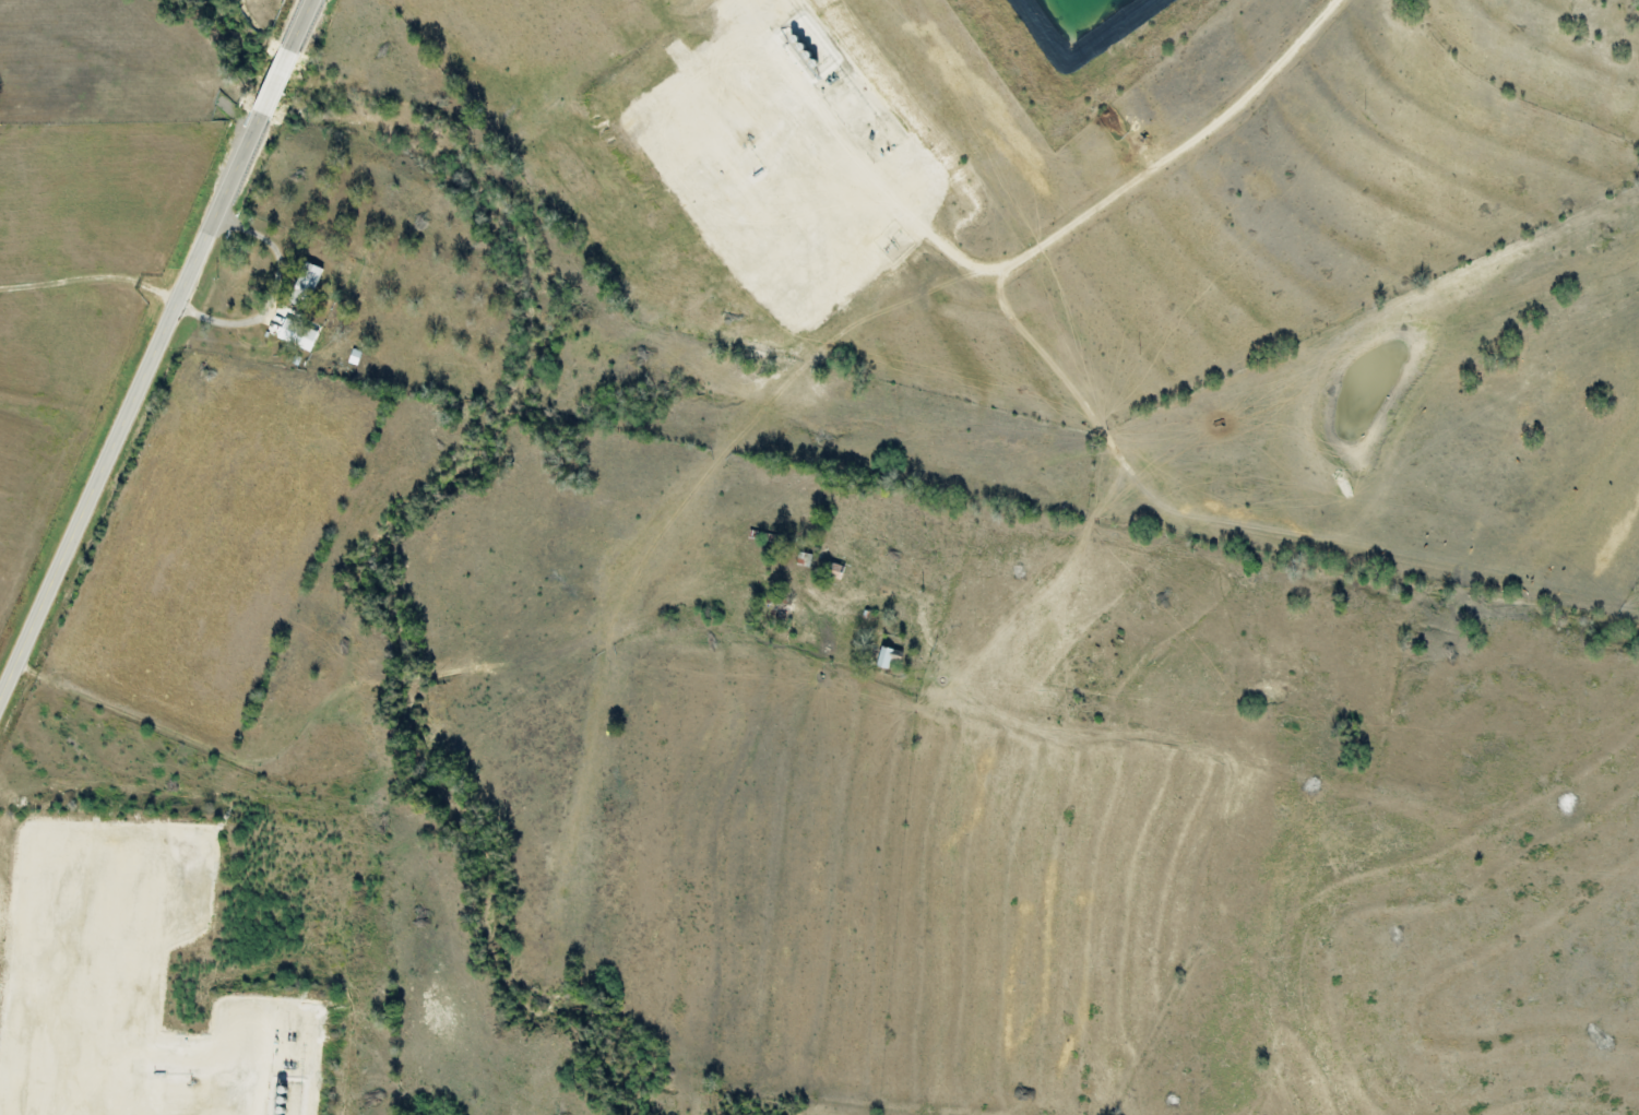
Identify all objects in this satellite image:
petroleum well: (750, 138)
road: (1117, 194)
building: (306, 285)
building: (298, 335)
road: (157, 353)
building: (889, 656)
petroleum well: (192, 1086)

